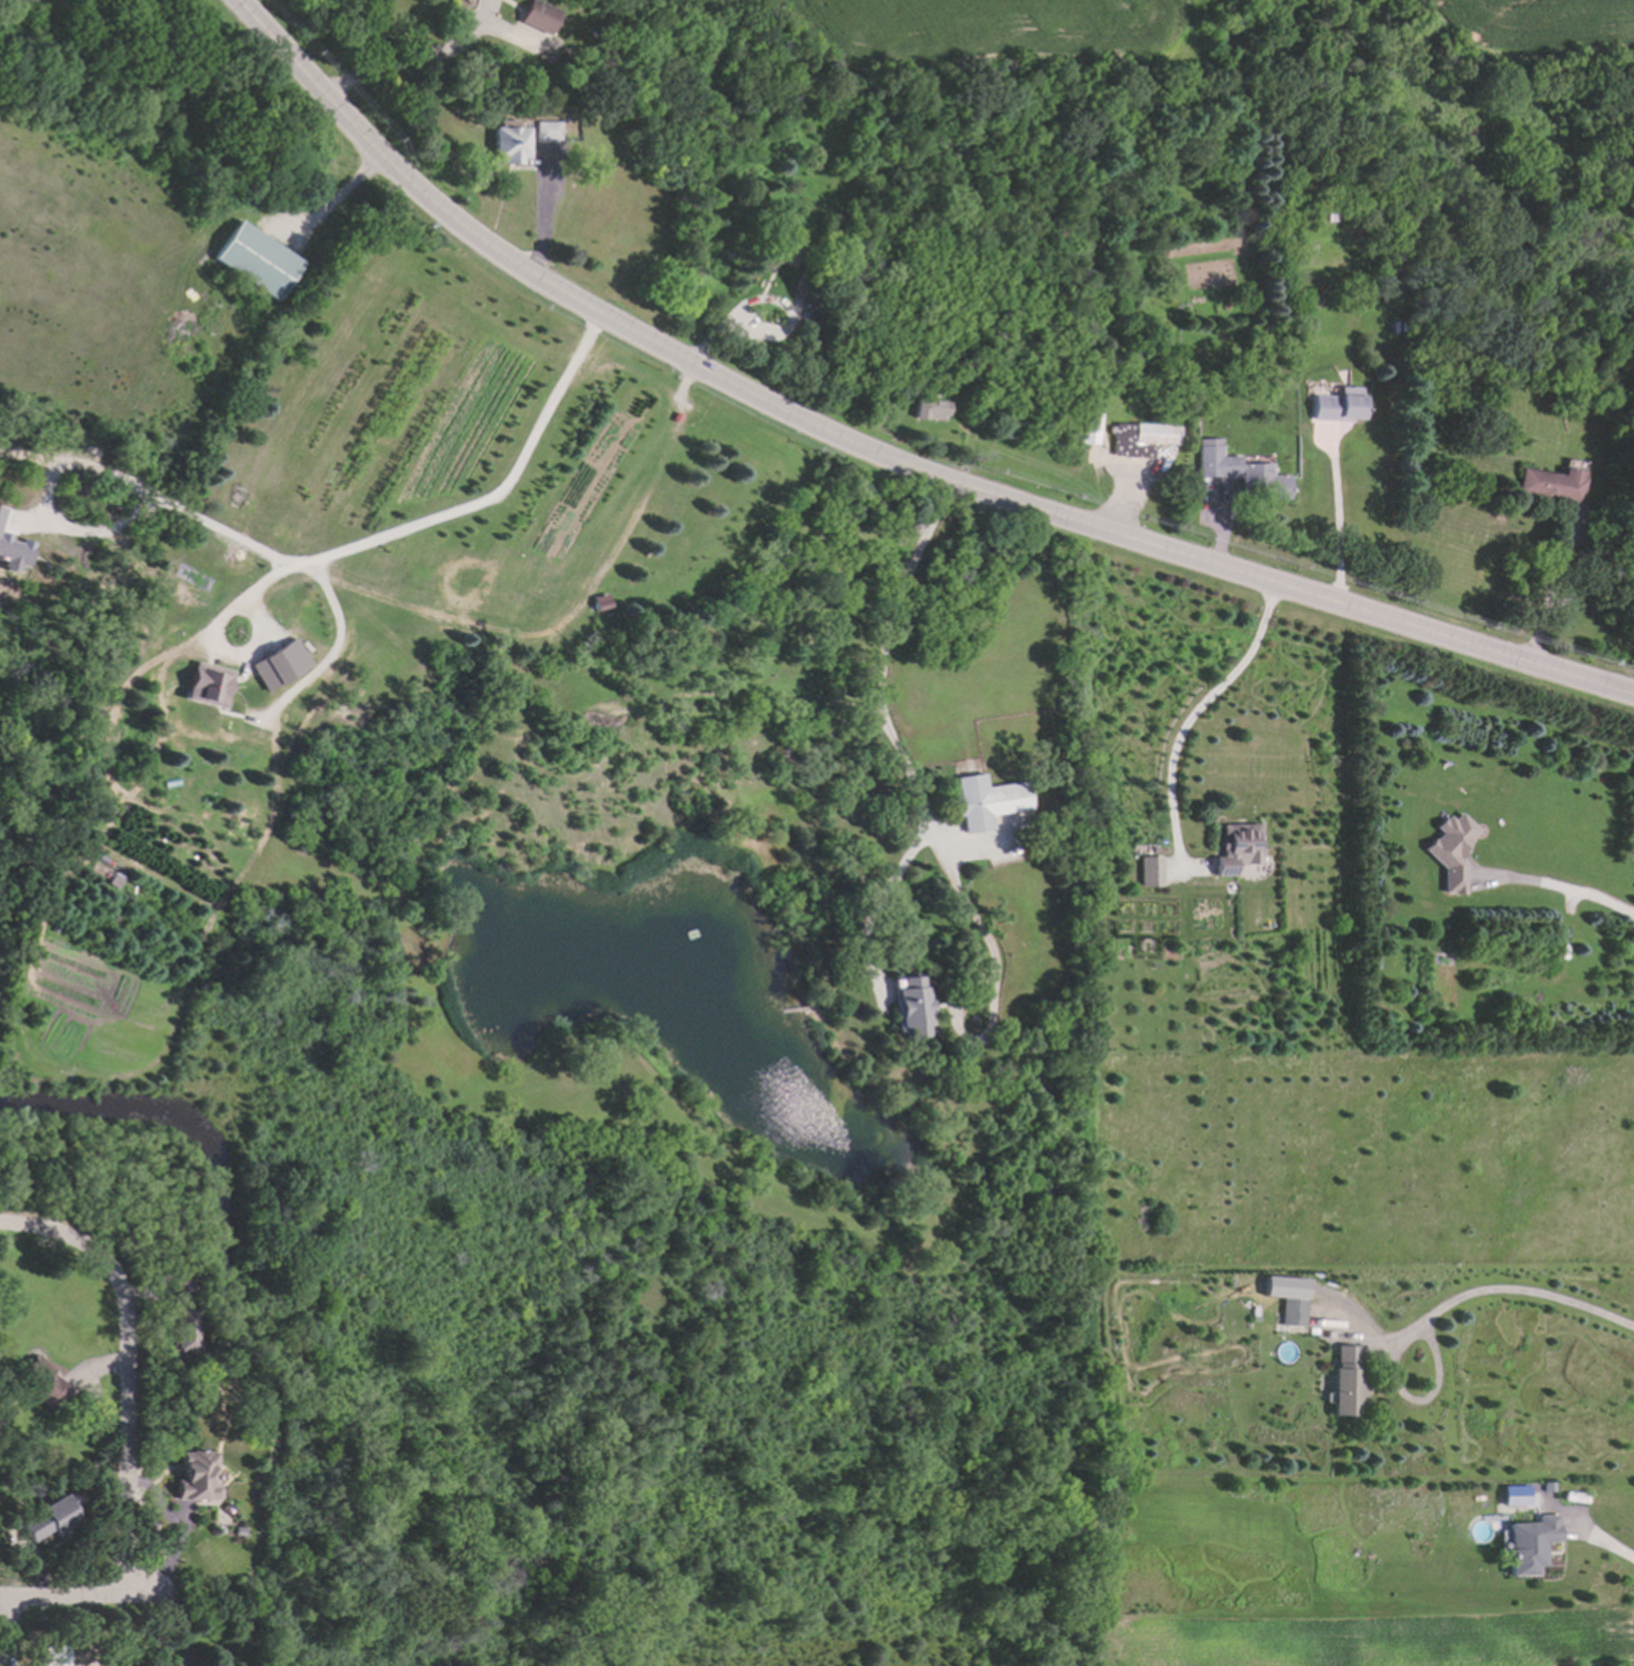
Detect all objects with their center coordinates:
building: (14, 4)
building: (535, 21)
road: (410, 60)
building: (541, 125)
building: (504, 137)
building: (730, 143)
road: (338, 201)
building: (1329, 215)
building: (776, 248)
building: (254, 258)
building: (801, 278)
road: (768, 299)
building: (922, 401)
building: (1335, 405)
building: (1086, 429)
building: (1138, 438)
road: (876, 452)
road: (86, 467)
building: (1239, 470)
building: (1542, 480)
road: (46, 489)
building: (1, 514)
road: (1338, 525)
building: (904, 527)
road: (368, 544)
building: (13, 554)
building: (1633, 569)
building: (1616, 571)
road: (563, 623)
building: (281, 666)
building: (209, 685)
road: (1196, 717)
building: (984, 803)
road: (924, 815)
building: (1234, 850)
building: (1451, 851)
building: (1146, 872)
road: (1557, 886)
road: (874, 903)
building: (1372, 960)
building: (910, 1010)
road: (68, 1235)
road: (1463, 1292)
building: (1290, 1312)
building: (1251, 1317)
building: (181, 1326)
building: (183, 1354)
building: (41, 1379)
building: (1345, 1387)
road: (128, 1419)
building: (89, 1467)
building: (197, 1471)
building: (1544, 1485)
building: (1511, 1494)
building: (51, 1511)
building: (237, 1529)
road: (1597, 1536)
building: (1527, 1544)
road: (75, 1598)
road: (176, 1601)
road: (3, 1632)

